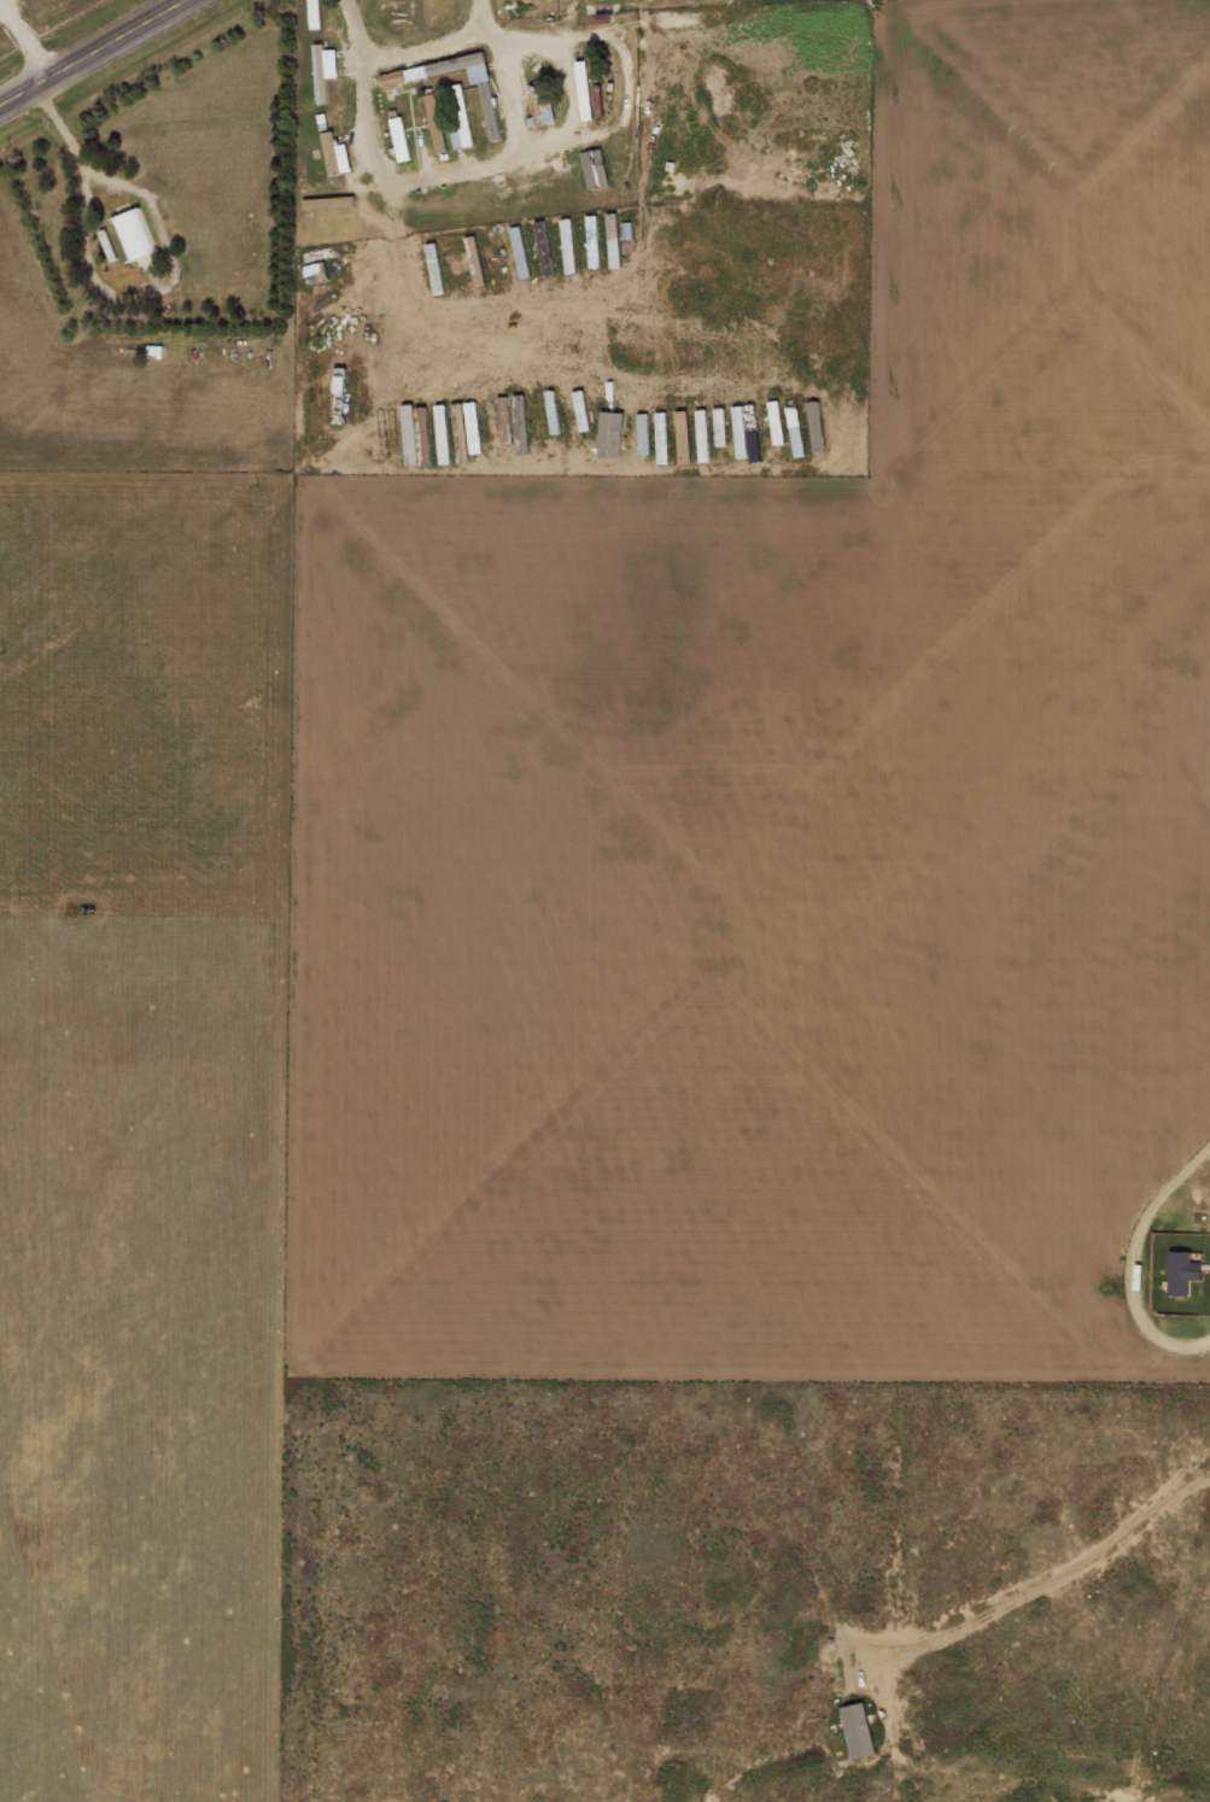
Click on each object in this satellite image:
road: (86, 48)
road: (420, 48)
building: (439, 70)
building: (480, 90)
road: (508, 94)
building: (460, 118)
building: (437, 122)
building: (399, 138)
road: (532, 147)
building: (335, 154)
building: (595, 169)
building: (130, 235)
building: (516, 236)
building: (612, 240)
building: (567, 245)
building: (475, 416)
building: (776, 422)
building: (720, 426)
building: (816, 426)
building: (740, 431)
building: (796, 431)
building: (609, 433)
building: (643, 433)
building: (702, 434)
building: (661, 437)
building: (683, 437)
building: (1182, 1271)
building: (859, 1730)

